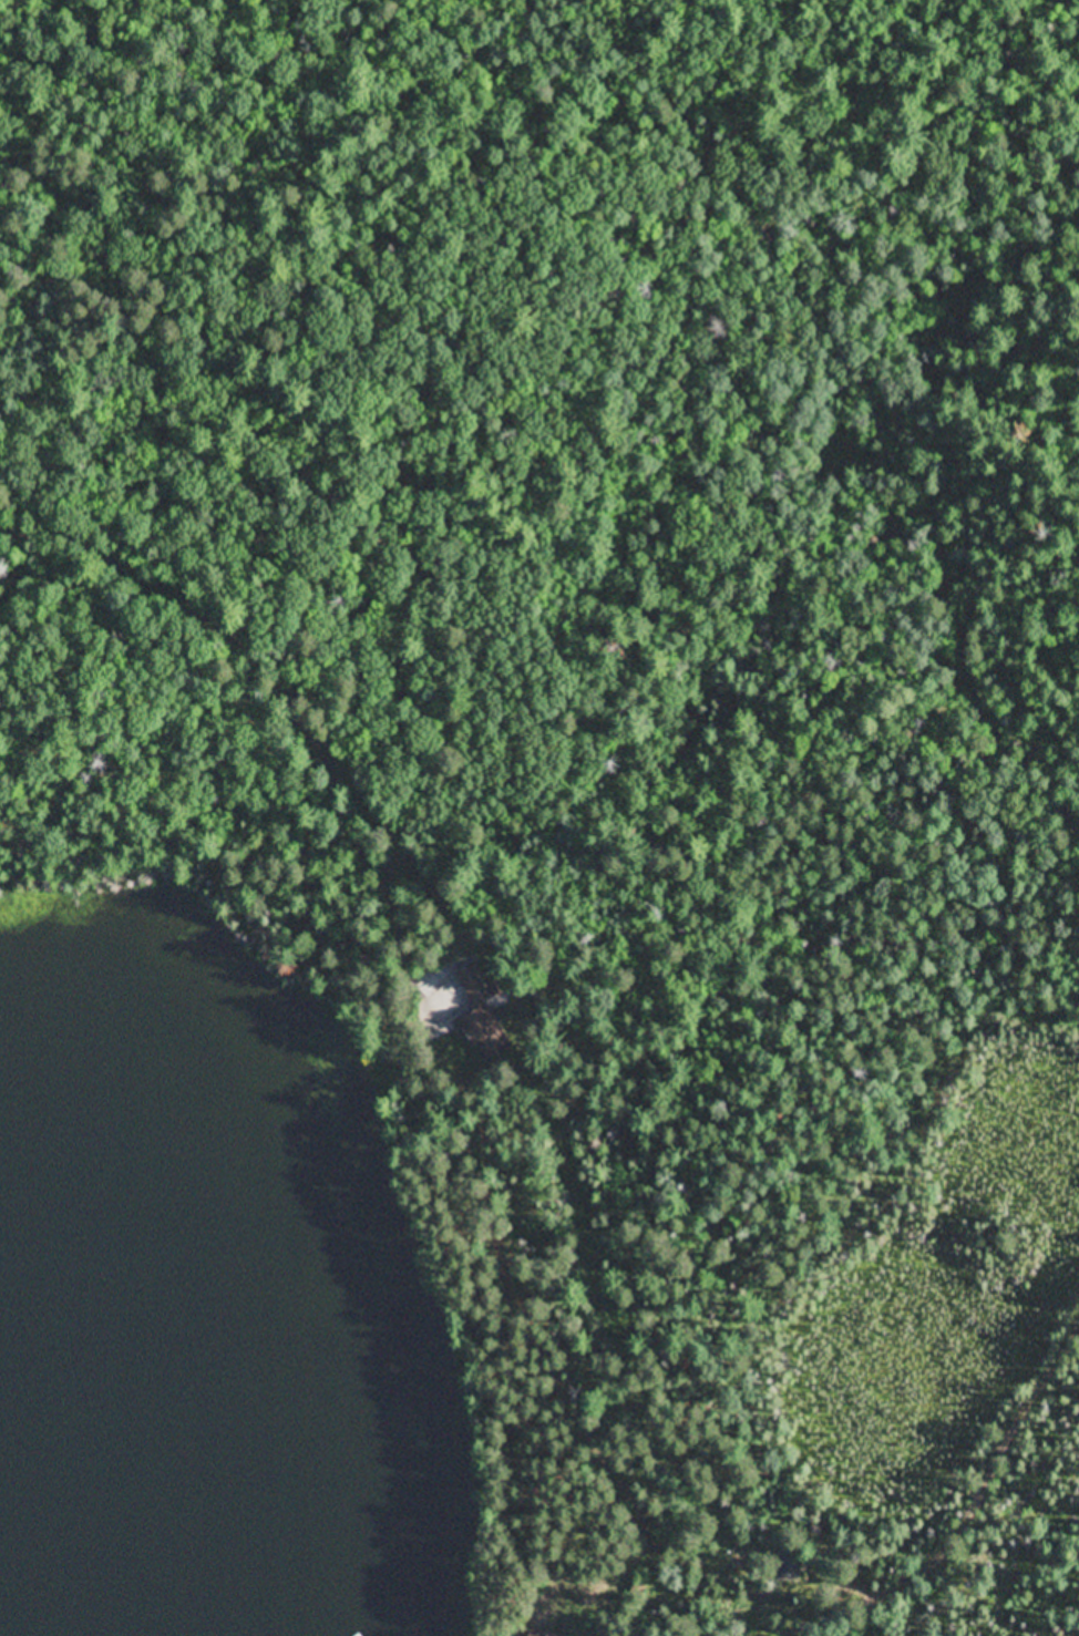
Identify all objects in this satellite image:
road: (878, 397)
building: (482, 1018)
road: (941, 1556)

